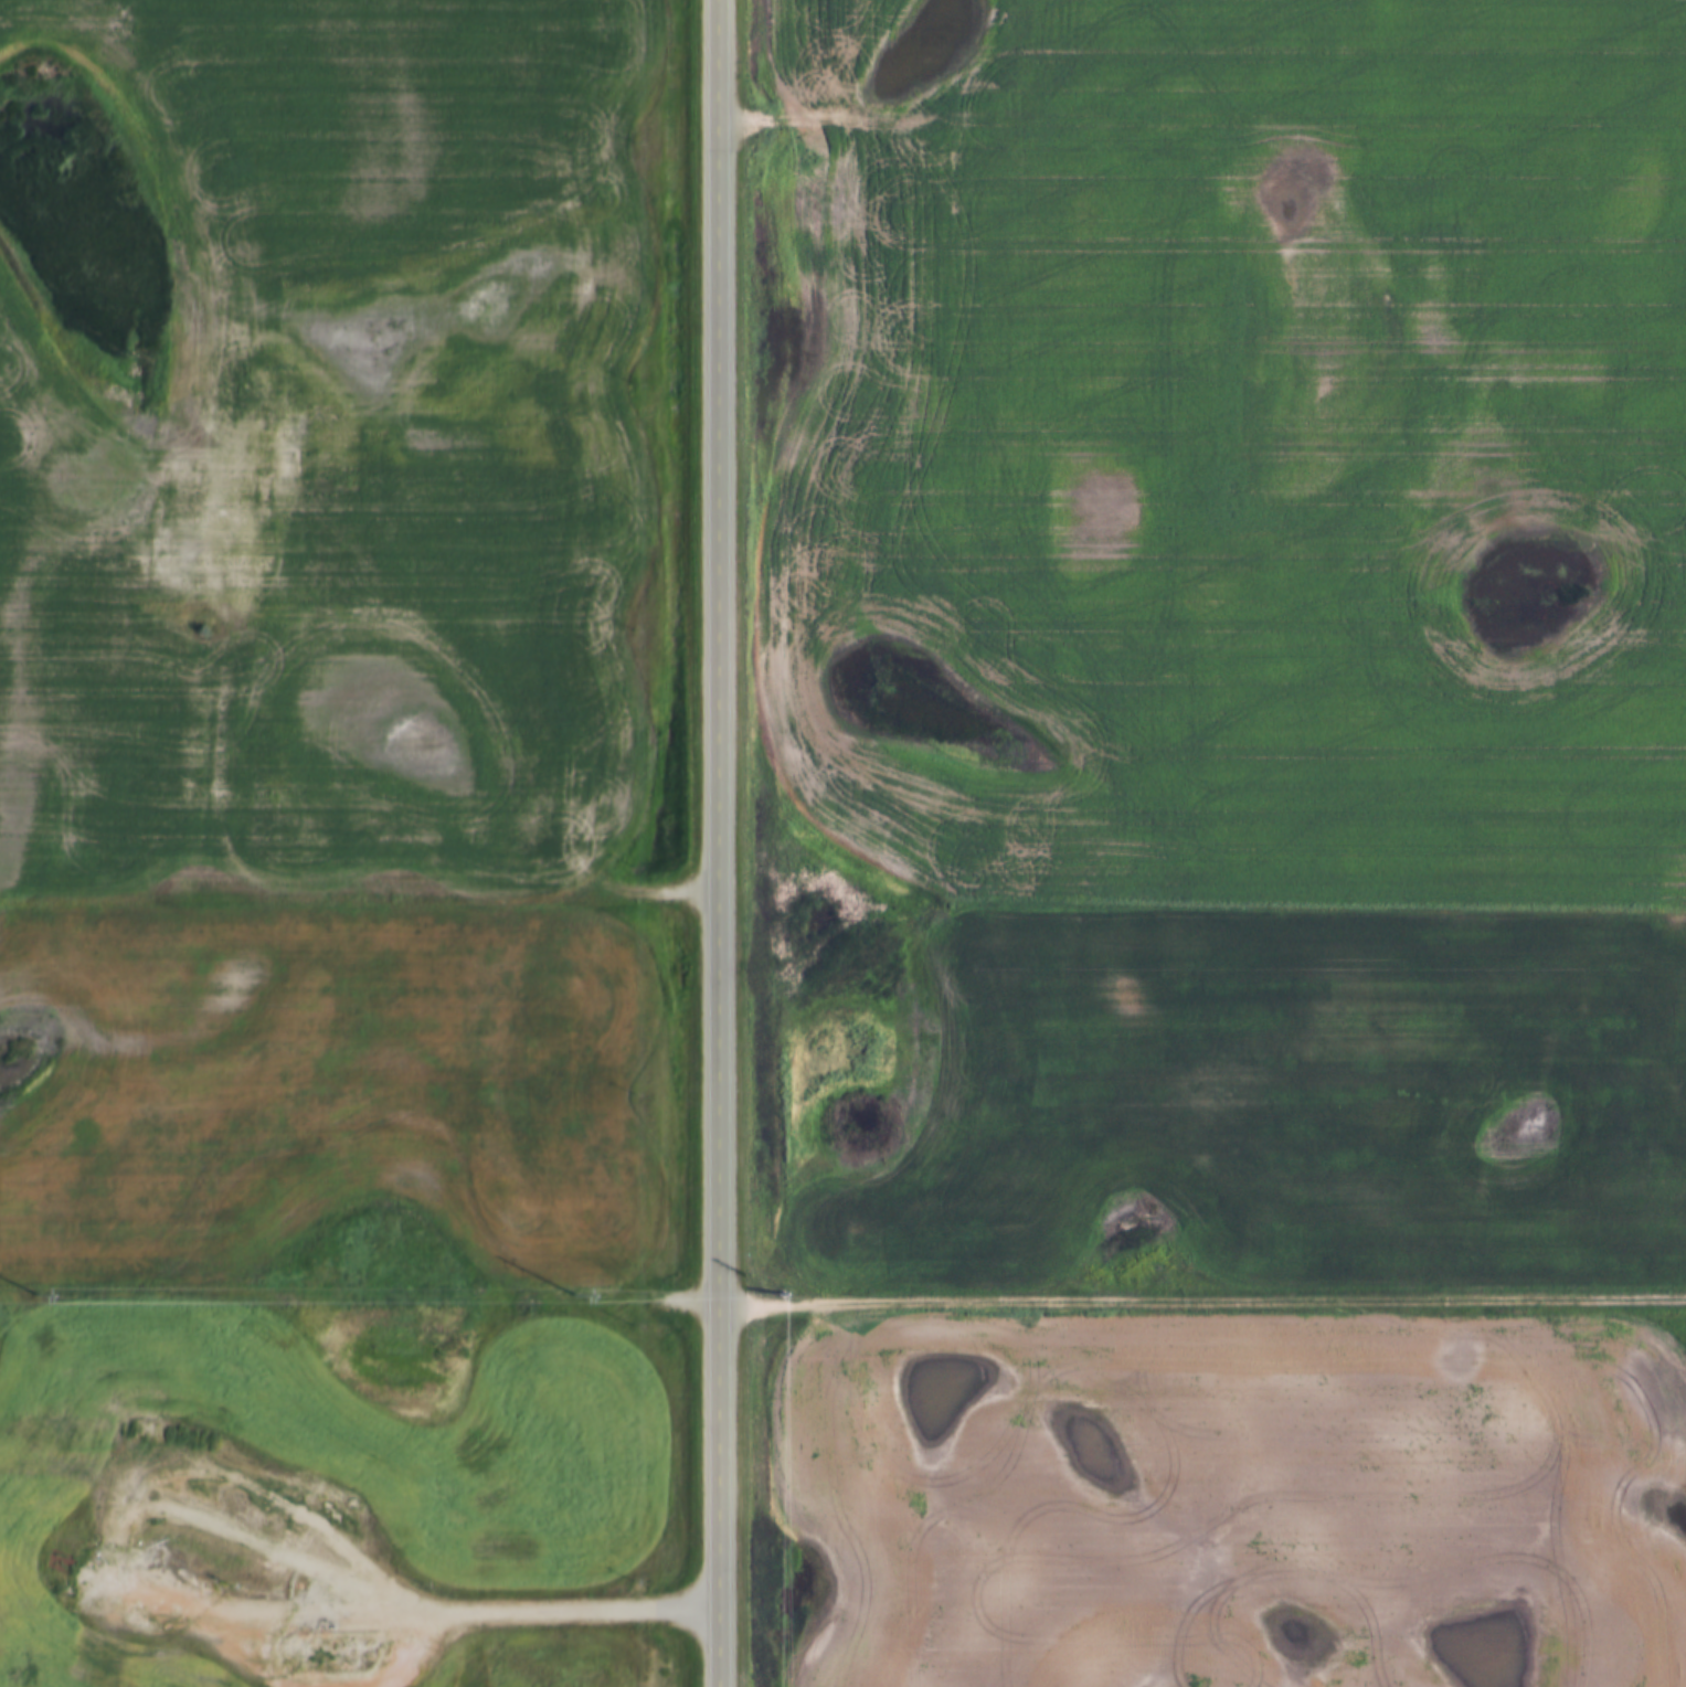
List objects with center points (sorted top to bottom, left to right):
road: (1082, 118)
road: (717, 842)
road: (261, 888)
road: (1201, 1304)
road: (295, 1609)
building: (301, 1631)
storage tank: (301, 1631)
building: (328, 1631)
storage tank: (328, 1631)
building: (315, 1632)
storage tank: (315, 1632)
building: (340, 1632)
storage tank: (340, 1632)
building: (327, 1643)
storage tank: (327, 1643)
building: (300, 1644)
storage tank: (300, 1644)
building: (315, 1644)
storage tank: (315, 1644)
building: (341, 1644)
storage tank: (341, 1644)
building: (176, 1655)
storage tank: (176, 1655)
building: (135, 1656)
storage tank: (135, 1656)
building: (148, 1656)
storage tank: (148, 1656)
building: (161, 1656)
storage tank: (161, 1656)
building: (135, 1669)
storage tank: (135, 1669)
building: (149, 1669)
storage tank: (149, 1669)
building: (160, 1669)
storage tank: (160, 1669)
building: (174, 1669)
storage tank: (174, 1669)

